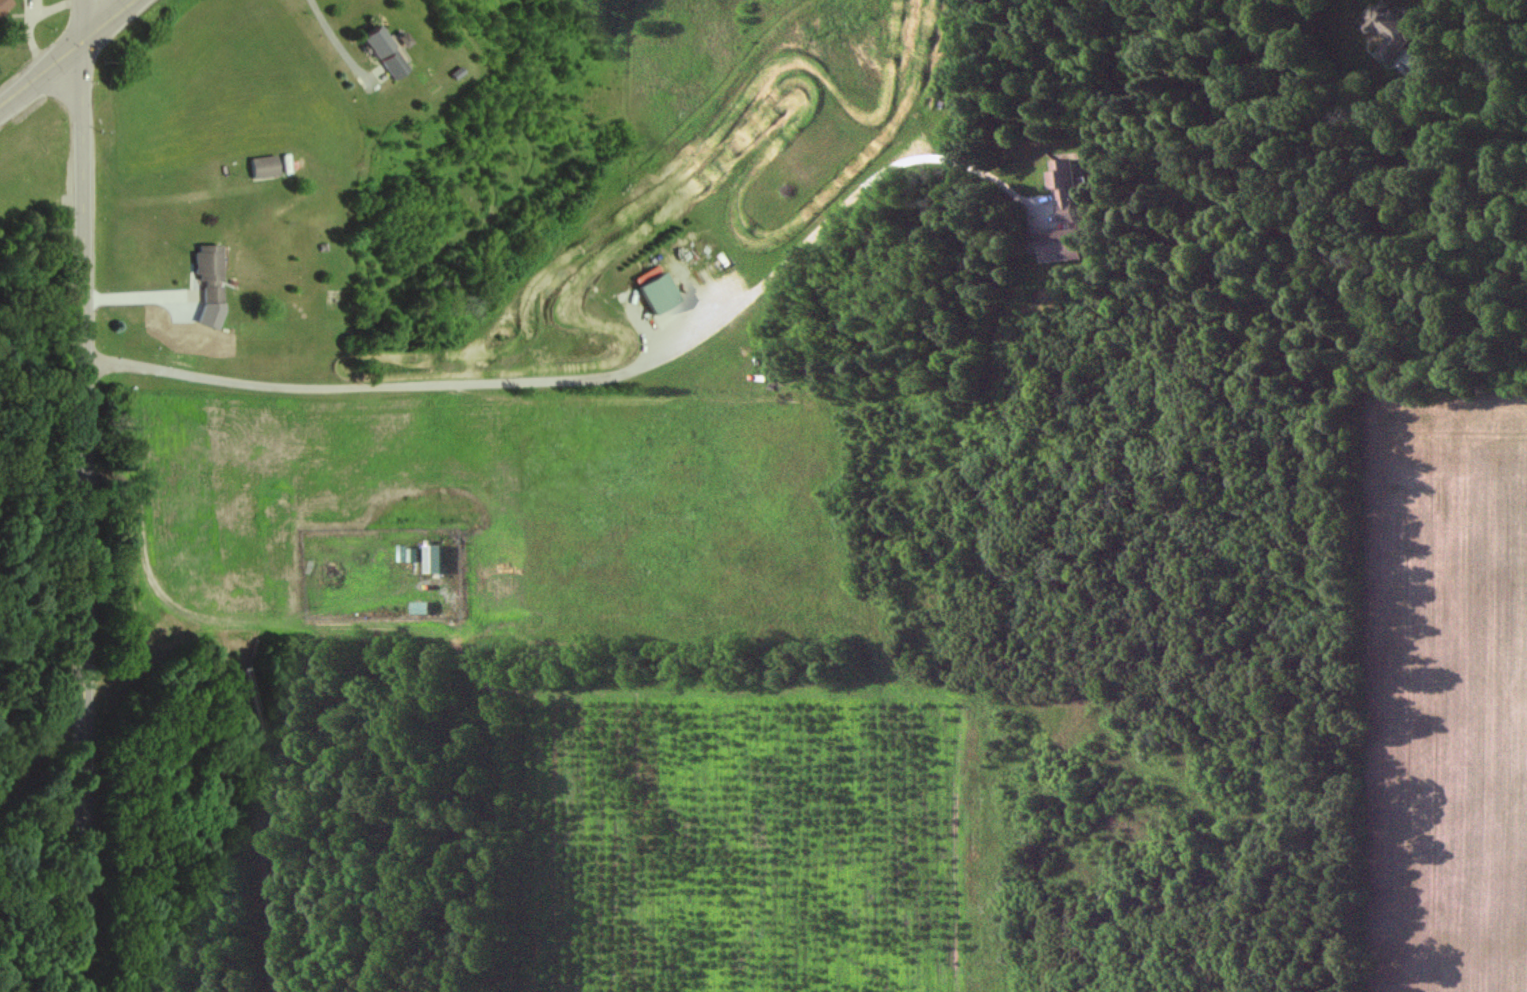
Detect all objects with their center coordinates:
building: (2, 2)
road: (104, 20)
building: (1389, 32)
road: (334, 39)
building: (381, 52)
road: (39, 70)
road: (1463, 116)
building: (261, 167)
building: (1062, 193)
building: (1058, 247)
building: (204, 274)
building: (654, 295)
road: (140, 298)
road: (598, 377)
road: (84, 495)
building: (431, 559)
building: (417, 608)

